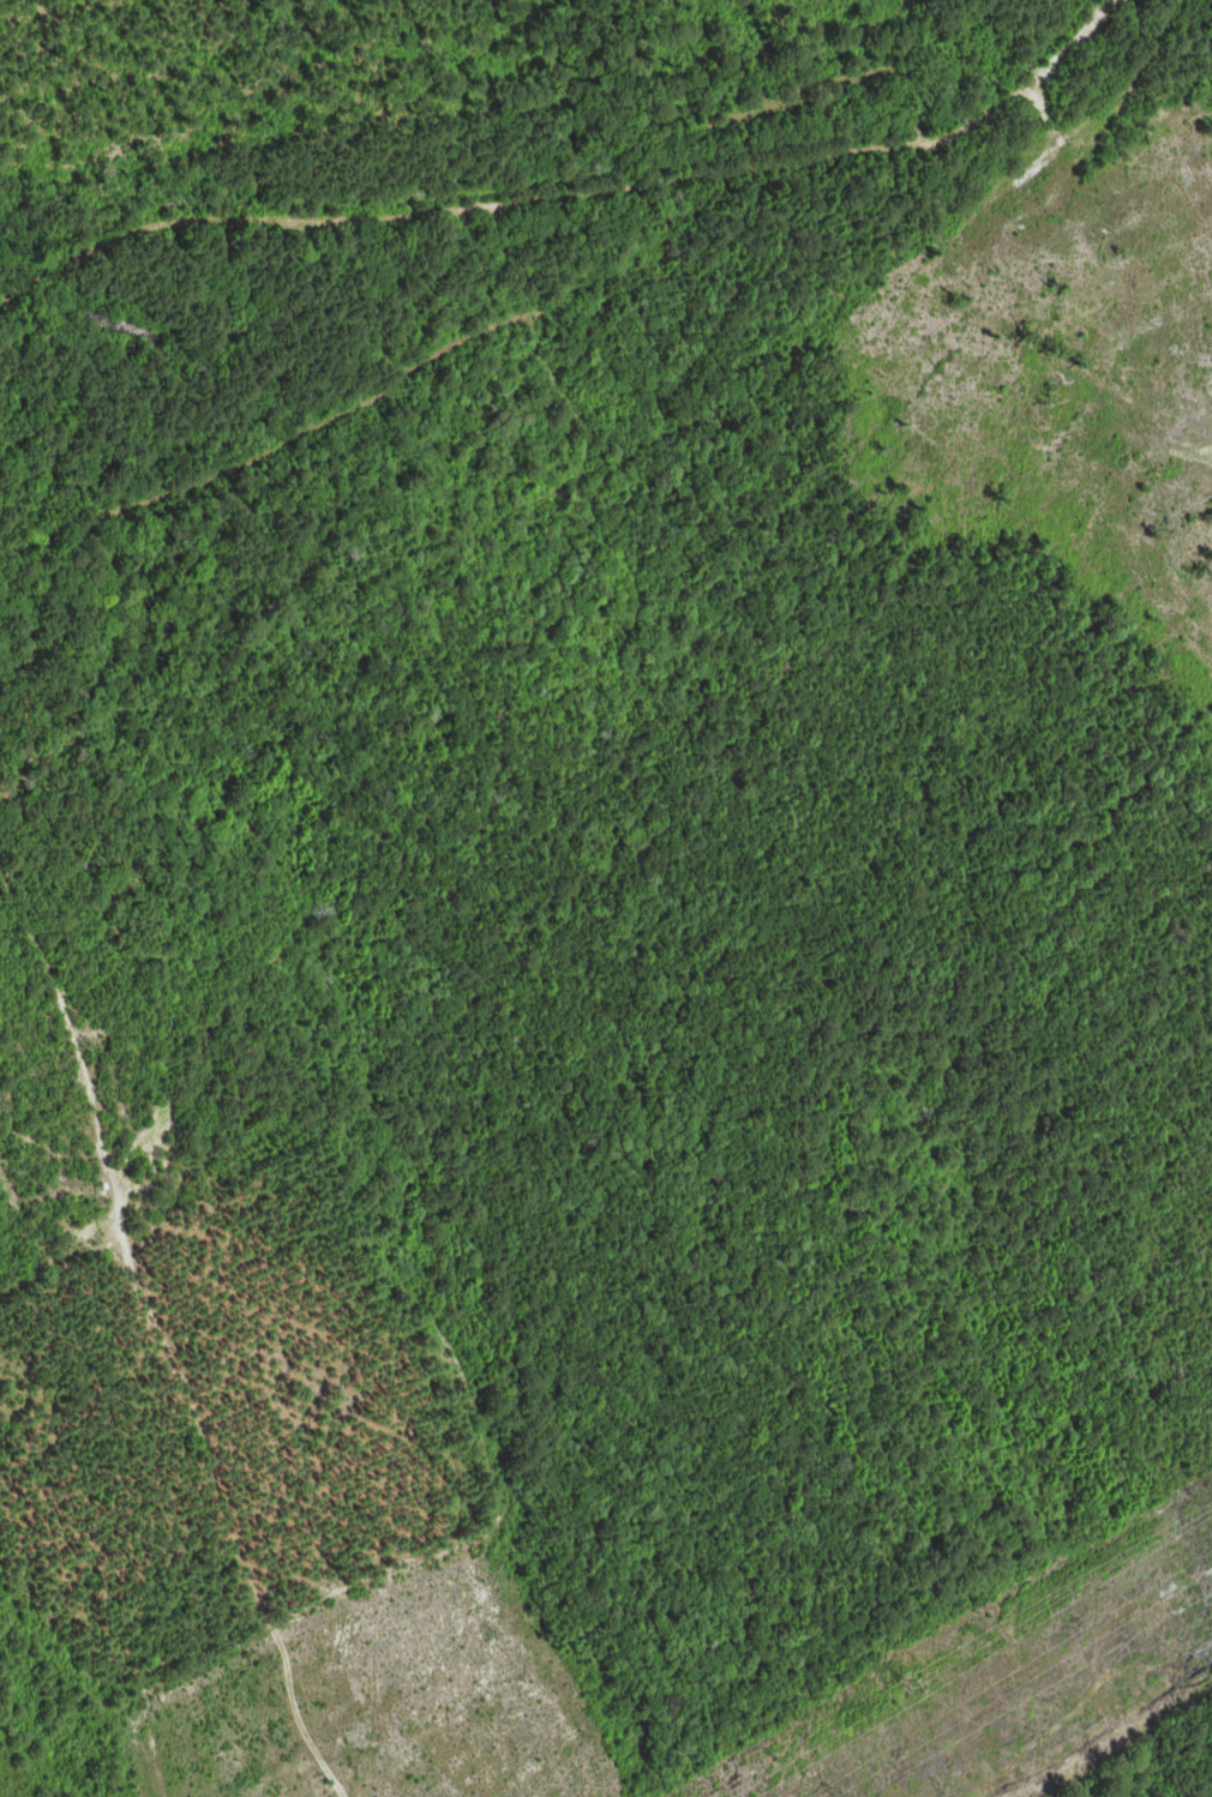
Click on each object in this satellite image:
power tower: (910, 1683)
power tower: (838, 1787)
power tower: (946, 1791)

